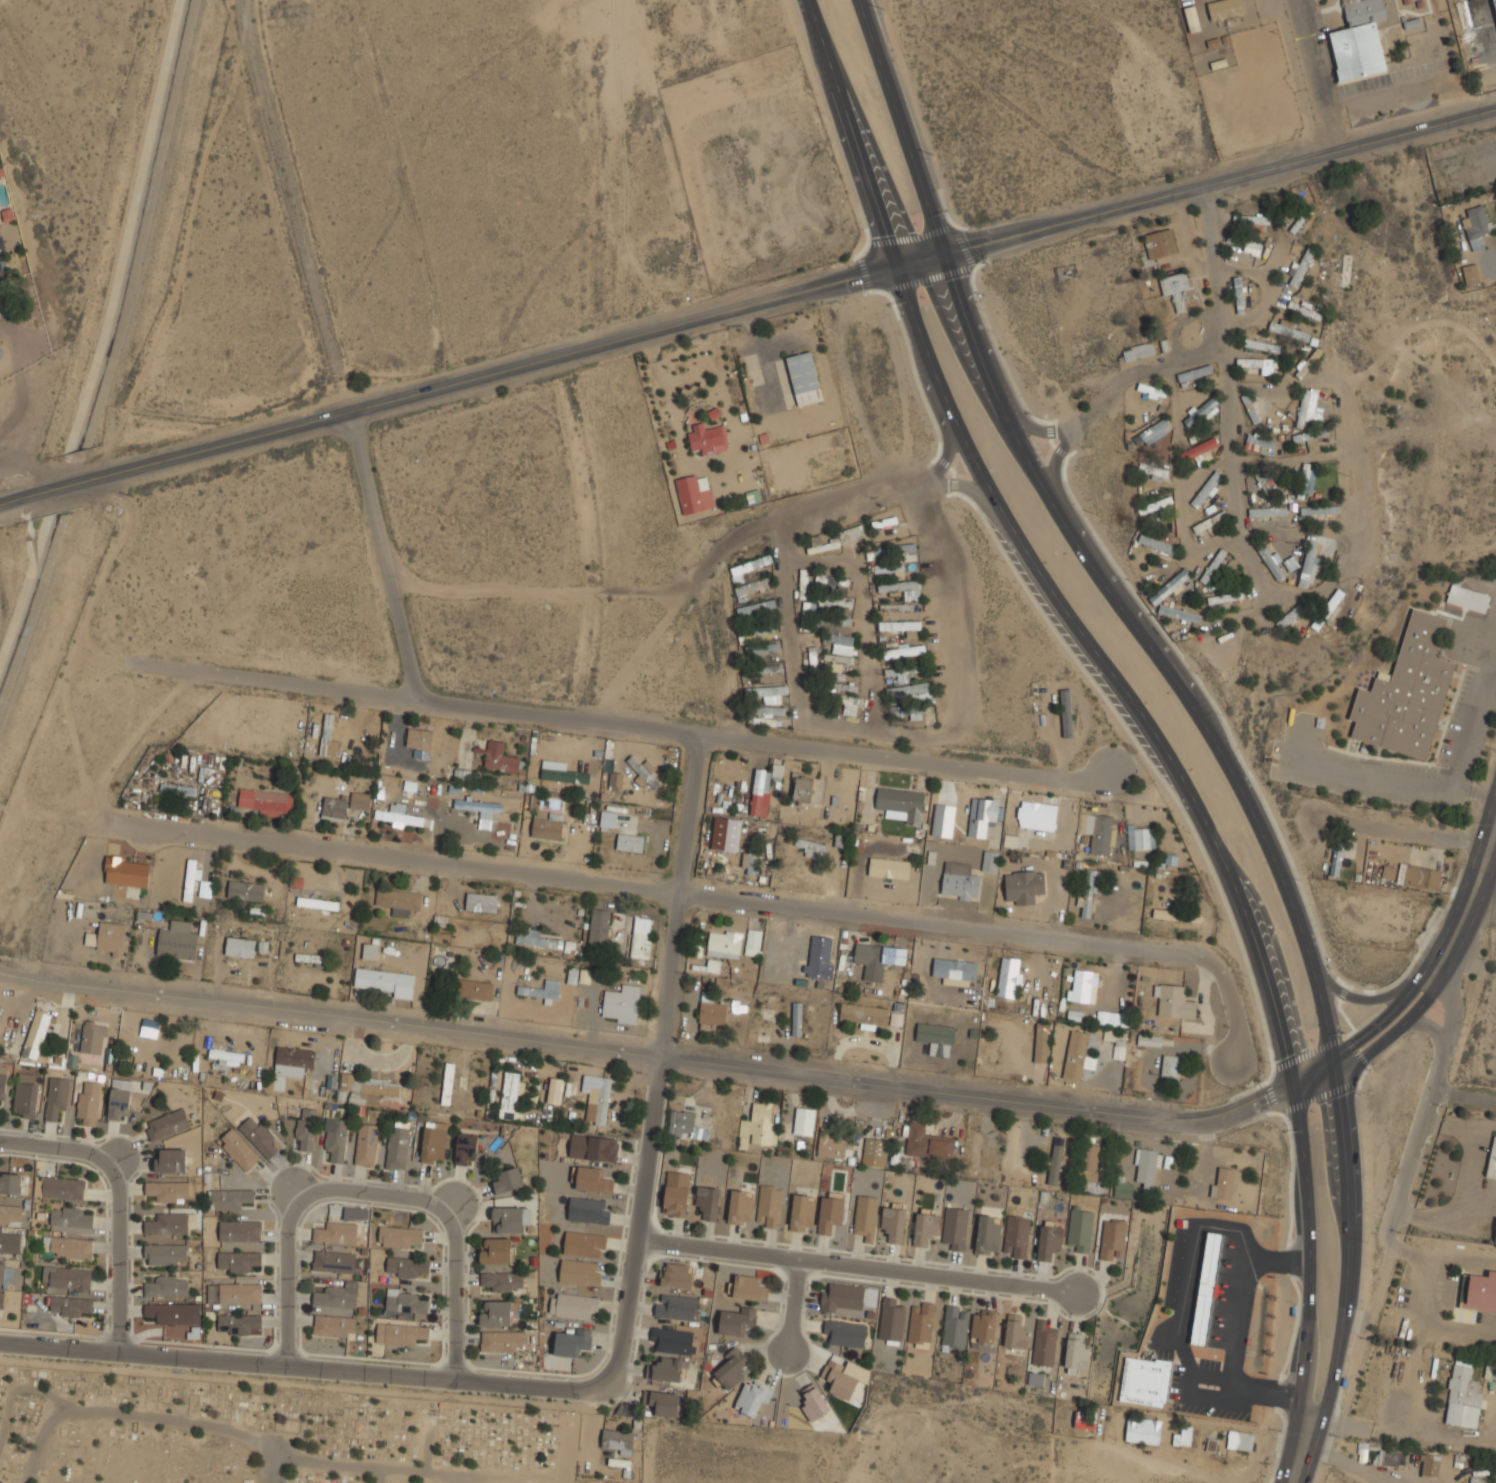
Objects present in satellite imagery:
building: (1225, 8)
building: (1191, 14)
building: (1477, 30)
building: (1362, 36)
road: (1317, 77)
building: (1252, 218)
building: (1476, 225)
building: (1244, 241)
building: (1160, 242)
traffic signals: (942, 253)
traffic signals: (894, 267)
building: (1300, 267)
building: (1470, 272)
building: (1181, 289)
building: (1239, 293)
road: (958, 303)
road: (747, 304)
building: (1302, 308)
road: (915, 328)
building: (1290, 329)
building: (1262, 344)
building: (1139, 350)
building: (1256, 362)
building: (1308, 362)
building: (1195, 372)
road: (1138, 375)
building: (804, 376)
road: (19, 377)
building: (1252, 408)
building: (1306, 409)
building: (1201, 410)
building: (1282, 428)
building: (1150, 431)
road: (1069, 436)
building: (707, 437)
building: (1309, 437)
building: (1260, 440)
building: (1198, 449)
building: (1204, 457)
building: (1159, 472)
building: (776, 473)
building: (1265, 482)
building: (1305, 482)
building: (1206, 489)
building: (694, 492)
building: (1154, 504)
building: (1319, 509)
building: (1266, 510)
building: (1209, 520)
building: (884, 521)
road: (762, 529)
building: (837, 538)
building: (1158, 542)
building: (895, 548)
road: (382, 553)
building: (1273, 559)
building: (1290, 563)
building: (1213, 565)
building: (1308, 565)
building: (747, 566)
building: (889, 567)
building: (832, 579)
building: (803, 580)
building: (1169, 585)
building: (750, 586)
building: (901, 586)
road: (1262, 587)
building: (1225, 596)
building: (1467, 598)
building: (835, 599)
building: (755, 606)
building: (895, 606)
building: (1327, 608)
building: (806, 612)
building: (1180, 612)
building: (1291, 614)
building: (836, 619)
building: (900, 624)
building: (760, 626)
building: (839, 638)
building: (761, 647)
building: (904, 650)
building: (813, 652)
building: (839, 656)
building: (761, 667)
building: (900, 670)
building: (845, 686)
building: (910, 690)
building: (765, 691)
building: (1406, 691)
building: (853, 704)
building: (767, 709)
building: (1066, 712)
road: (878, 715)
road: (632, 723)
building: (329, 737)
building: (419, 739)
road: (1461, 744)
building: (502, 758)
building: (551, 761)
building: (561, 772)
building: (642, 773)
building: (616, 780)
building: (764, 784)
building: (802, 786)
building: (177, 788)
building: (360, 799)
building: (265, 801)
building: (901, 803)
building: (334, 807)
building: (982, 814)
building: (1037, 814)
building: (399, 815)
road: (1253, 815)
building: (485, 818)
building: (608, 818)
building: (943, 818)
building: (547, 827)
road: (1405, 828)
building: (1100, 831)
building: (725, 833)
building: (1142, 836)
building: (630, 842)
road: (1214, 845)
building: (812, 847)
building: (990, 860)
building: (1336, 861)
building: (749, 862)
building: (126, 870)
building: (886, 872)
building: (1388, 872)
building: (1420, 875)
road: (1478, 877)
building: (190, 879)
building: (959, 880)
building: (1023, 885)
building: (245, 889)
building: (1088, 894)
building: (399, 899)
building: (481, 901)
road: (736, 901)
building: (317, 902)
building: (1405, 911)
building: (1176, 914)
building: (599, 923)
building: (642, 936)
building: (110, 937)
building: (540, 939)
building: (176, 940)
building: (753, 941)
building: (724, 943)
building: (239, 946)
building: (370, 950)
road: (1444, 953)
building: (820, 956)
building: (310, 957)
building: (878, 957)
building: (584, 976)
building: (1010, 977)
building: (384, 979)
building: (1085, 985)
building: (474, 988)
building: (541, 989)
road: (1378, 995)
building: (1174, 1000)
road: (1445, 1000)
building: (622, 1003)
building: (711, 1008)
building: (796, 1011)
building: (871, 1013)
building: (1099, 1016)
building: (149, 1027)
road: (1428, 1027)
building: (35, 1035)
building: (94, 1035)
road: (1364, 1035)
road: (1393, 1035)
building: (936, 1037)
building: (1150, 1039)
building: (1042, 1042)
building: (993, 1044)
building: (1119, 1047)
road: (659, 1049)
traffic signals: (1333, 1053)
building: (226, 1054)
building: (1076, 1054)
building: (295, 1055)
road: (649, 1055)
building: (1170, 1065)
traffic signals: (1339, 1075)
road: (1316, 1079)
building: (3, 1080)
building: (448, 1082)
traffic signals: (1294, 1084)
building: (366, 1088)
building: (554, 1090)
road: (1462, 1093)
building: (26, 1094)
building: (56, 1095)
building: (511, 1095)
building: (118, 1100)
building: (603, 1100)
building: (87, 1102)
building: (803, 1121)
building: (167, 1123)
building: (683, 1125)
building: (761, 1125)
building: (306, 1127)
building: (258, 1134)
building: (335, 1137)
building: (433, 1142)
building: (927, 1143)
building: (366, 1144)
building: (593, 1146)
building: (397, 1147)
building: (238, 1148)
building: (466, 1148)
building: (830, 1148)
road: (59, 1149)
road: (1410, 1149)
building: (975, 1151)
building: (873, 1152)
building: (170, 1160)
building: (1492, 1160)
building: (1056, 1162)
building: (1088, 1162)
building: (1145, 1166)
building: (507, 1179)
building: (591, 1179)
building: (10, 1182)
building: (1222, 1184)
building: (62, 1187)
building: (166, 1190)
building: (1123, 1190)
road: (372, 1193)
building: (676, 1193)
building: (230, 1199)
building: (707, 1202)
building: (769, 1206)
building: (739, 1207)
building: (587, 1210)
building: (10, 1211)
building: (801, 1212)
building: (829, 1214)
building: (71, 1216)
building: (865, 1217)
building: (510, 1219)
building: (167, 1224)
building: (893, 1224)
building: (955, 1228)
building: (924, 1229)
building: (1080, 1229)
building: (239, 1231)
building: (337, 1231)
building: (398, 1235)
building: (987, 1235)
building: (1016, 1236)
building: (1495, 1238)
building: (1112, 1239)
building: (8, 1241)
building: (1048, 1242)
building: (583, 1244)
building: (67, 1246)
road: (1350, 1247)
road: (1307, 1248)
building: (494, 1250)
road: (117, 1254)
building: (165, 1254)
road: (1452, 1259)
building: (333, 1260)
building: (238, 1261)
road: (854, 1263)
building: (407, 1266)
building: (2, 1271)
building: (578, 1272)
building: (676, 1276)
building: (66, 1277)
road: (289, 1277)
building: (501, 1281)
building: (166, 1286)
building: (749, 1288)
building: (1205, 1289)
building: (1481, 1291)
road: (455, 1293)
building: (337, 1295)
building: (841, 1296)
building: (1, 1299)
building: (405, 1302)
road: (792, 1304)
building: (70, 1305)
building: (572, 1306)
building: (676, 1307)
building: (173, 1313)
building: (494, 1313)
building: (890, 1320)
building: (736, 1321)
building: (238, 1323)
building: (334, 1325)
building: (954, 1327)
building: (982, 1327)
building: (400, 1332)
building: (845, 1333)
building: (1015, 1333)
building: (671, 1340)
building: (501, 1341)
building: (571, 1342)
building: (1043, 1344)
building: (1076, 1352)
road: (313, 1368)
building: (732, 1368)
building: (668, 1369)
building: (1490, 1370)
building: (837, 1380)
building: (1144, 1381)
road: (21, 1389)
building: (1463, 1394)
building: (752, 1398)
building: (664, 1403)
building: (813, 1403)
building: (1083, 1422)
road: (213, 1425)
building: (1142, 1430)
building: (1182, 1437)
park: (370, 1439)
building: (1239, 1440)
building: (617, 1441)
road: (427, 1445)
building: (1210, 1445)
road: (1302, 1448)
building: (1392, 1457)
road: (1346, 1460)
building: (1430, 1463)
road: (274, 1468)
road: (378, 1475)

